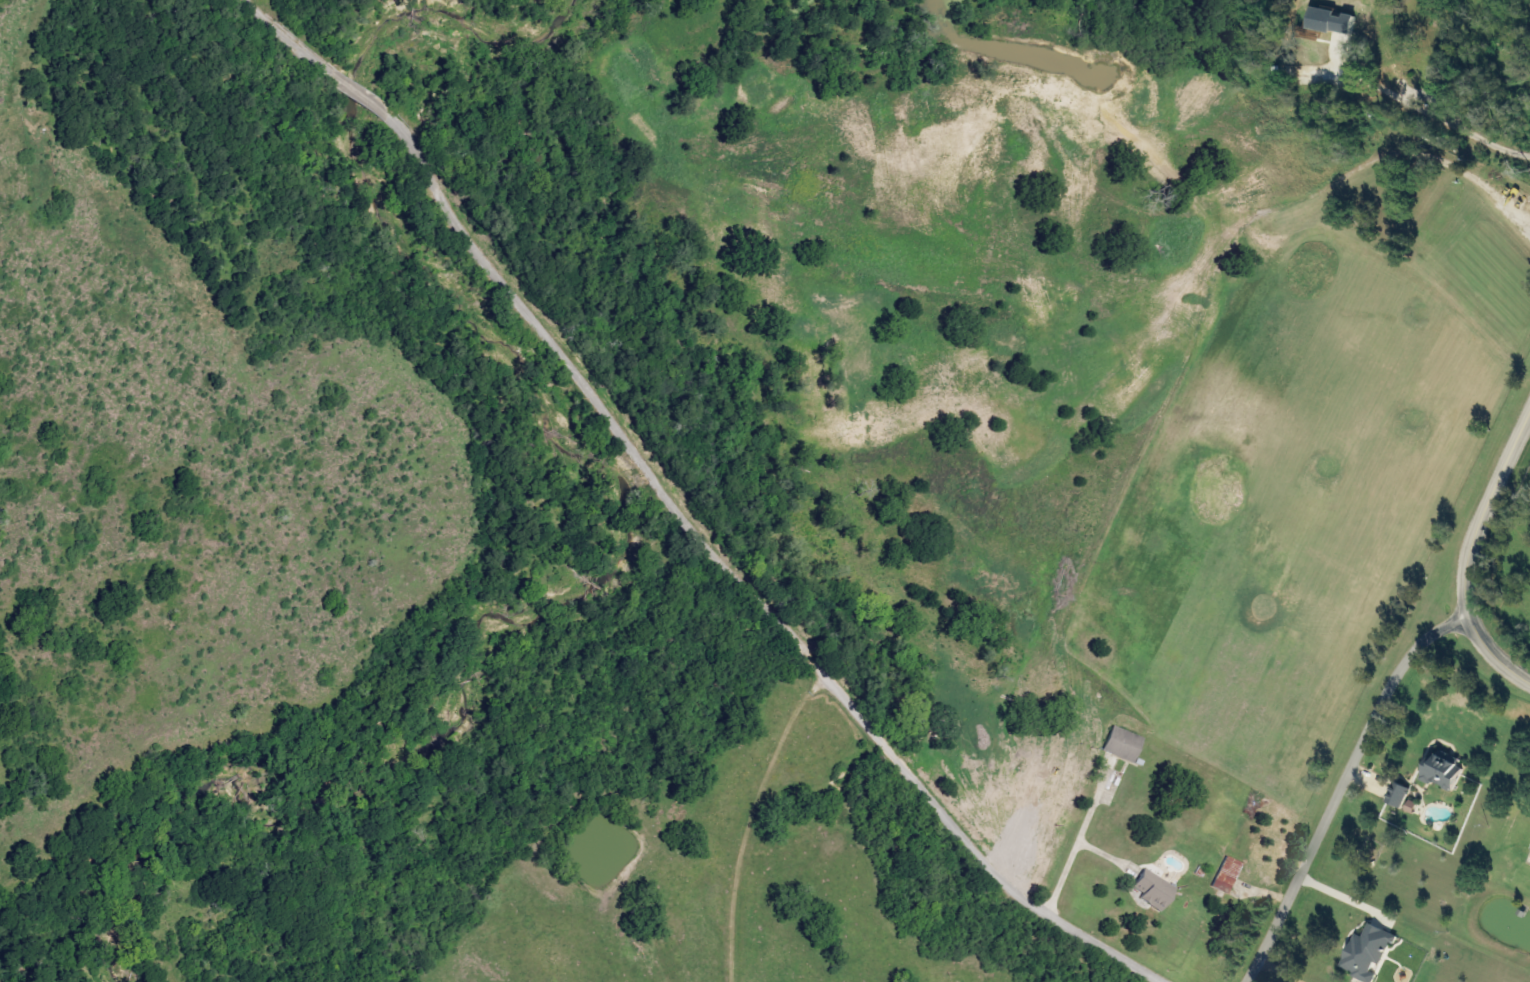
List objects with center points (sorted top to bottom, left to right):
building: (1329, 22)
road: (1477, 137)
road: (1480, 509)
road: (681, 512)
road: (1492, 660)
building: (1126, 744)
building: (1442, 775)
road: (1338, 787)
building: (1407, 798)
road: (751, 818)
road: (1064, 870)
building: (1222, 878)
building: (1150, 894)
road: (1339, 897)
building: (1372, 953)
road: (1274, 968)

